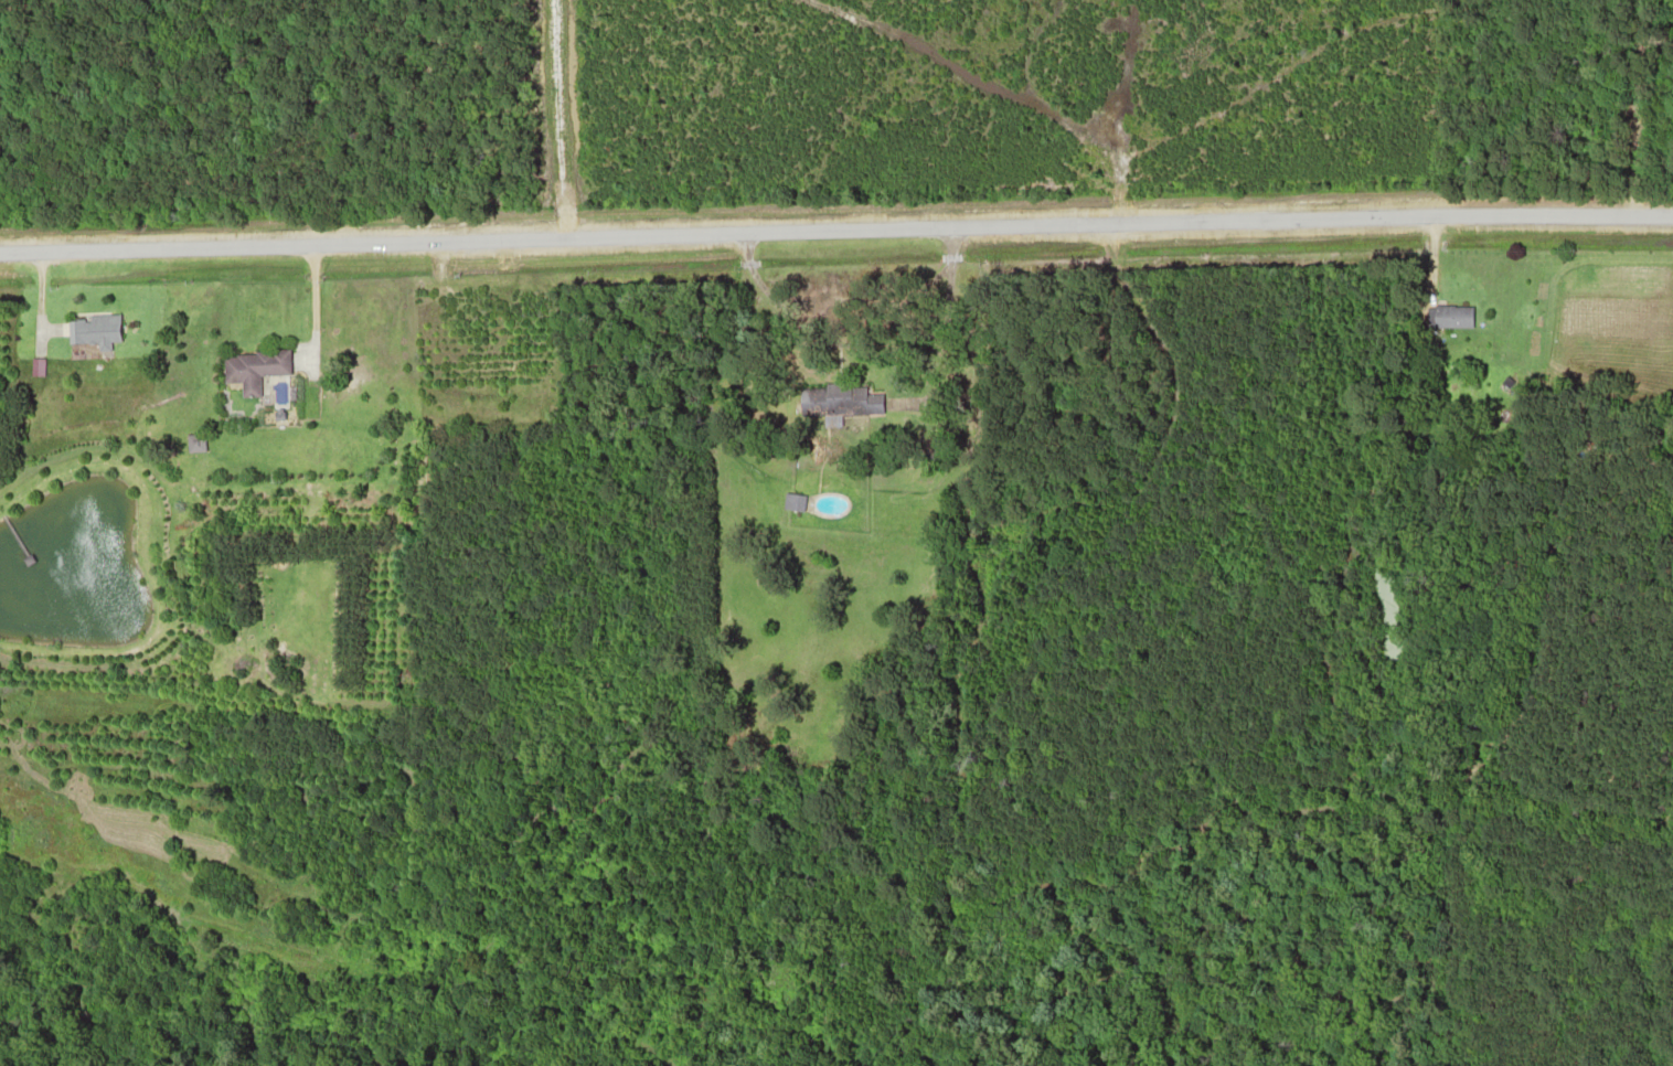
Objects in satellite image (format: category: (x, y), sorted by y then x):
road: (835, 227)
building: (1451, 315)
building: (92, 328)
building: (253, 365)
building: (842, 401)
building: (193, 443)
building: (791, 502)

